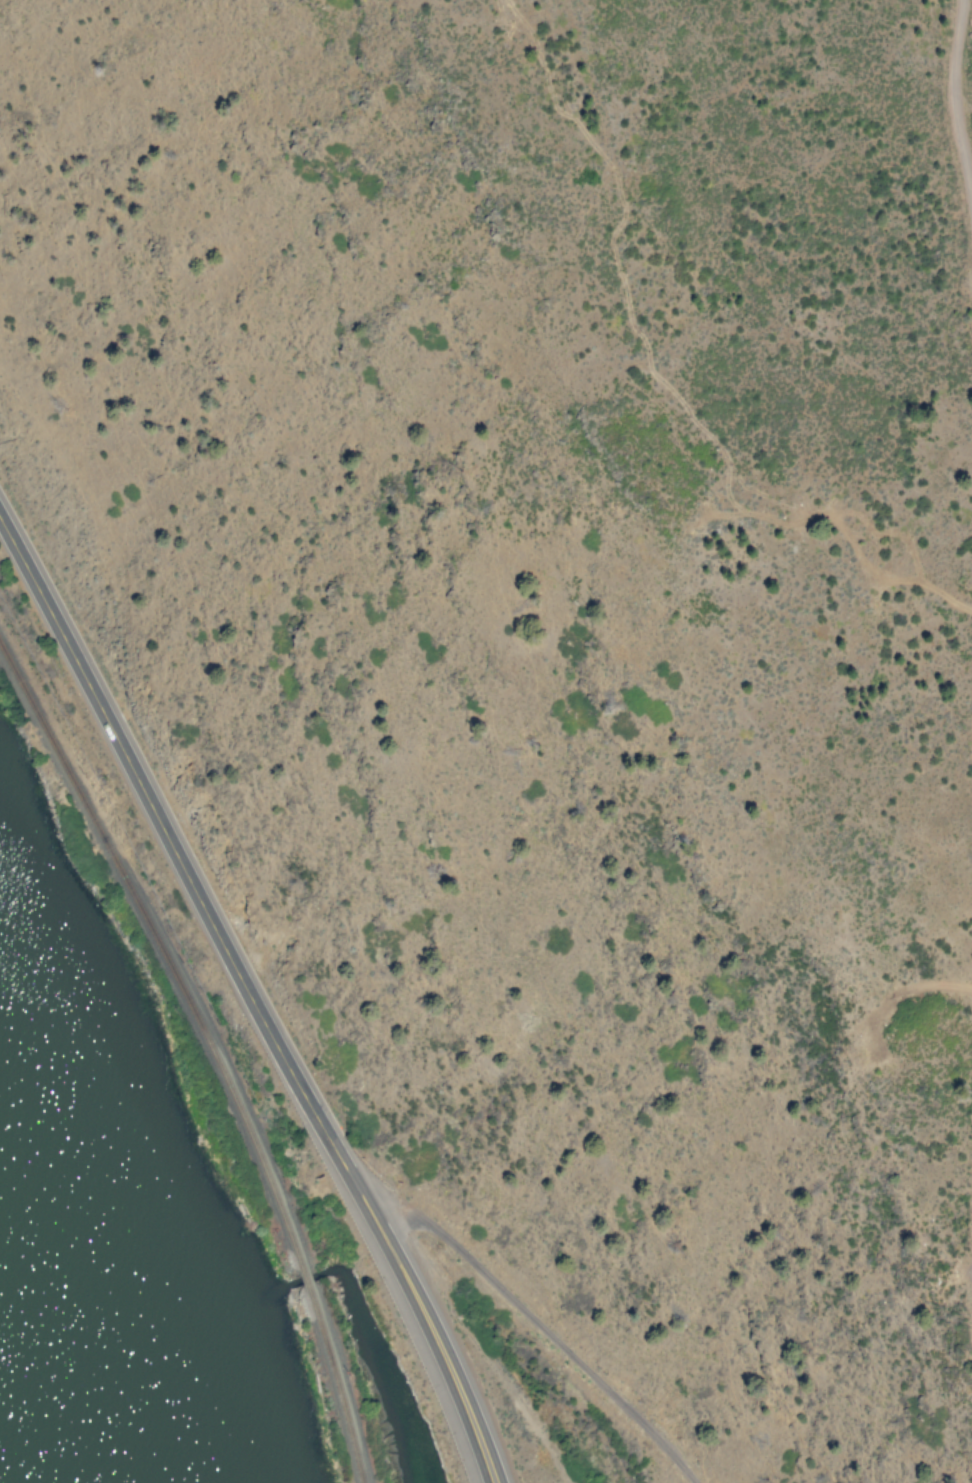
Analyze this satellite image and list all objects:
road: (951, 103)
railway: (160, 955)
road: (257, 1000)
railway: (305, 1279)
road: (535, 1321)
road: (481, 1343)
railway: (335, 1384)

